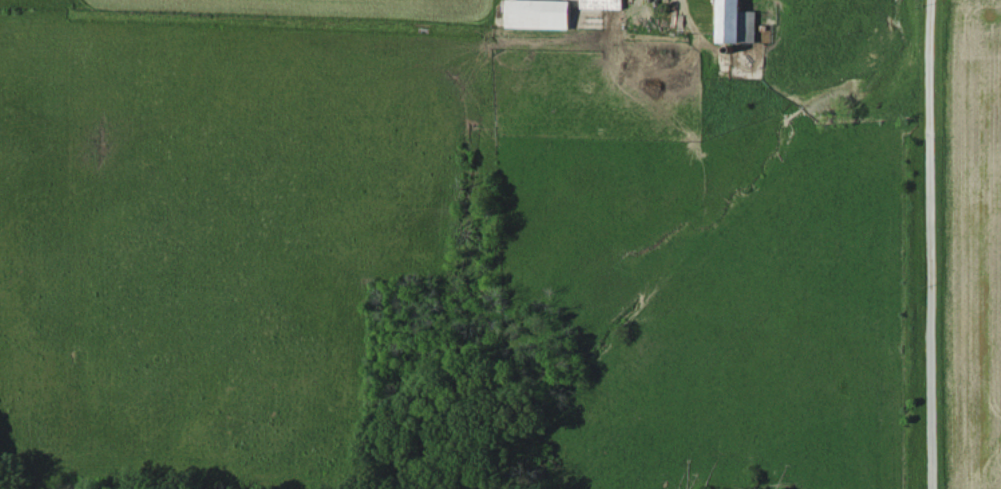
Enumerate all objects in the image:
building: (602, 4)
building: (539, 13)
building: (735, 22)
road: (928, 244)

